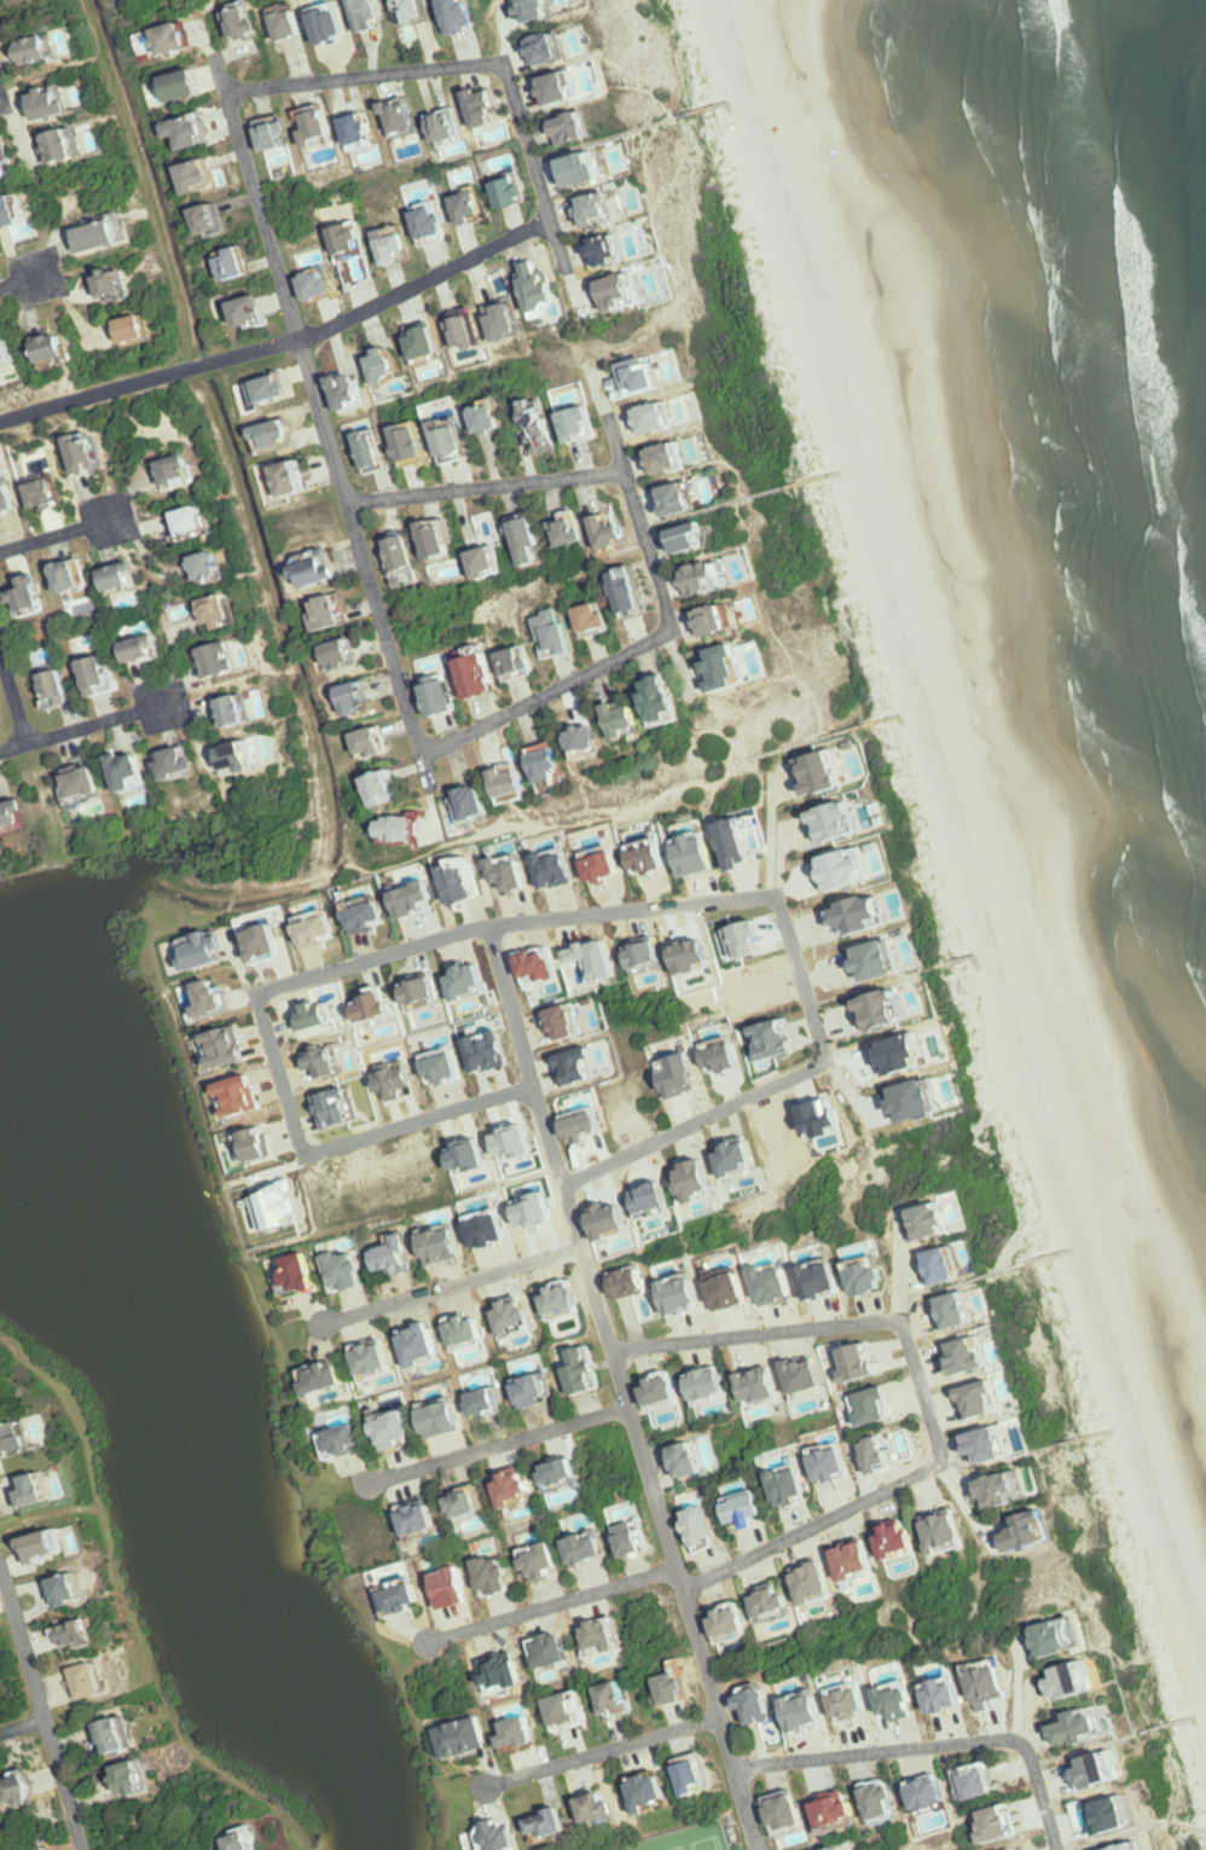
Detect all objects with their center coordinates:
building: (375, 12)
building: (422, 12)
building: (541, 12)
building: (466, 17)
building: (248, 23)
building: (300, 28)
building: (181, 41)
building: (47, 50)
building: (551, 51)
road: (367, 80)
building: (190, 89)
building: (568, 91)
building: (58, 106)
building: (491, 110)
building: (410, 121)
building: (325, 129)
building: (454, 129)
building: (579, 132)
building: (366, 133)
building: (197, 137)
building: (284, 138)
building: (66, 149)
building: (7, 153)
road: (535, 168)
building: (592, 173)
building: (208, 179)
building: (518, 197)
building: (477, 210)
building: (602, 213)
building: (16, 215)
building: (219, 224)
building: (441, 226)
building: (106, 239)
building: (402, 251)
building: (611, 254)
building: (360, 257)
building: (242, 267)
road: (23, 282)
road: (425, 282)
building: (120, 286)
building: (324, 289)
building: (547, 291)
building: (625, 295)
building: (259, 314)
building: (514, 326)
building: (144, 332)
building: (470, 334)
building: (429, 343)
building: (58, 352)
building: (12, 358)
building: (394, 365)
building: (639, 378)
road: (149, 382)
building: (282, 388)
building: (359, 392)
building: (495, 417)
building: (661, 418)
road: (324, 423)
building: (587, 424)
building: (544, 427)
building: (283, 433)
building: (459, 436)
building: (418, 442)
building: (381, 450)
building: (94, 451)
building: (673, 458)
building: (185, 469)
building: (297, 480)
road: (486, 487)
building: (12, 498)
building: (685, 499)
building: (198, 522)
road: (639, 522)
building: (578, 532)
building: (614, 532)
road: (59, 534)
building: (442, 539)
building: (535, 541)
building: (407, 557)
building: (493, 563)
building: (214, 566)
building: (325, 569)
building: (77, 575)
building: (128, 576)
building: (711, 579)
building: (636, 591)
building: (36, 595)
building: (226, 611)
building: (330, 613)
building: (603, 616)
building: (719, 621)
building: (561, 633)
building: (153, 649)
building: (349, 655)
building: (225, 660)
building: (523, 663)
building: (731, 667)
building: (104, 677)
building: (486, 683)
building: (62, 690)
road: (547, 695)
building: (365, 697)
building: (668, 697)
building: (450, 698)
building: (245, 709)
building: (630, 718)
road: (86, 727)
road: (24, 733)
building: (591, 738)
building: (376, 743)
building: (245, 758)
building: (186, 762)
building: (553, 765)
building: (134, 770)
building: (821, 771)
building: (92, 782)
building: (516, 783)
building: (392, 789)
building: (481, 804)
building: (16, 818)
building: (831, 822)
building: (410, 829)
building: (735, 846)
building: (695, 853)
building: (647, 854)
building: (602, 865)
building: (845, 868)
building: (552, 869)
building: (509, 874)
building: (459, 883)
building: (411, 899)
building: (361, 909)
building: (863, 915)
building: (314, 928)
building: (744, 940)
building: (262, 944)
building: (202, 951)
building: (644, 955)
building: (694, 958)
building: (597, 959)
building: (876, 959)
building: (540, 968)
road: (799, 975)
building: (468, 984)
building: (419, 991)
road: (850, 992)
building: (213, 999)
building: (372, 1009)
building: (883, 1010)
building: (312, 1016)
building: (562, 1023)
building: (773, 1039)
building: (226, 1048)
building: (488, 1054)
building: (897, 1055)
building: (721, 1056)
building: (321, 1063)
building: (443, 1067)
building: (578, 1067)
road: (282, 1075)
building: (680, 1075)
building: (394, 1083)
building: (242, 1098)
building: (916, 1102)
building: (337, 1112)
building: (819, 1117)
building: (584, 1126)
building: (512, 1142)
building: (255, 1146)
building: (469, 1152)
building: (737, 1156)
building: (695, 1176)
building: (651, 1200)
building: (280, 1202)
building: (535, 1207)
building: (930, 1218)
building: (608, 1220)
building: (487, 1226)
building: (445, 1242)
building: (393, 1254)
building: (941, 1263)
building: (346, 1268)
building: (290, 1270)
building: (864, 1275)
building: (818, 1276)
building: (851, 1278)
building: (628, 1280)
building: (802, 1280)
building: (770, 1284)
building: (756, 1286)
road: (453, 1287)
road: (944, 1287)
building: (726, 1289)
building: (682, 1292)
building: (663, 1294)
building: (561, 1299)
building: (953, 1309)
building: (512, 1315)
building: (468, 1328)
building: (421, 1340)
building: (966, 1352)
building: (371, 1356)
building: (860, 1358)
building: (582, 1367)
building: (806, 1373)
building: (323, 1374)
building: (788, 1375)
building: (763, 1382)
building: (707, 1384)
building: (533, 1386)
building: (741, 1386)
building: (662, 1387)
road: (621, 1388)
building: (643, 1390)
road: (918, 1390)
building: (980, 1397)
building: (487, 1400)
building: (963, 1400)
building: (871, 1403)
building: (441, 1415)
building: (393, 1426)
building: (340, 1437)
building: (985, 1442)
building: (16, 1443)
road: (498, 1448)
building: (880, 1451)
building: (689, 1456)
building: (672, 1461)
building: (830, 1461)
road: (996, 1462)
building: (813, 1466)
building: (559, 1469)
building: (790, 1484)
building: (1002, 1486)
building: (517, 1487)
building: (772, 1487)
building: (44, 1489)
building: (466, 1500)
building: (743, 1506)
building: (418, 1519)
building: (698, 1527)
building: (945, 1527)
building: (927, 1530)
building: (1021, 1530)
building: (898, 1536)
building: (633, 1537)
building: (377, 1538)
building: (879, 1541)
building: (586, 1545)
building: (45, 1552)
building: (858, 1556)
building: (538, 1558)
building: (836, 1561)
building: (495, 1573)
building: (814, 1578)
building: (796, 1583)
building: (451, 1585)
building: (74, 1591)
building: (400, 1591)
building: (771, 1599)
building: (413, 1600)
road: (552, 1607)
building: (730, 1618)
building: (714, 1623)
building: (81, 1635)
building: (609, 1636)
building: (1044, 1637)
building: (559, 1651)
building: (509, 1674)
building: (1065, 1678)
building: (92, 1682)
building: (984, 1682)
building: (676, 1684)
building: (941, 1695)
building: (613, 1697)
building: (897, 1697)
building: (848, 1699)
building: (755, 1703)
building: (877, 1703)
building: (833, 1704)
road: (40, 1705)
building: (564, 1707)
building: (804, 1709)
building: (785, 1713)
building: (1075, 1724)
road: (22, 1727)
building: (518, 1733)
building: (460, 1735)
building: (123, 1738)
road: (932, 1748)
road: (1080, 1751)
road: (602, 1755)
building: (1090, 1768)
building: (694, 1775)
building: (141, 1780)
building: (978, 1781)
building: (926, 1788)
building: (647, 1790)
building: (29, 1792)
building: (883, 1798)
building: (864, 1802)
building: (595, 1805)
building: (835, 1809)
building: (817, 1810)
building: (1109, 1811)
building: (769, 1813)
building: (785, 1814)
building: (995, 1822)
building: (553, 1825)
building: (504, 1835)
building: (243, 1838)
park: (707, 1844)
building: (1121, 1846)
park: (677, 1848)
building: (833, 1848)

